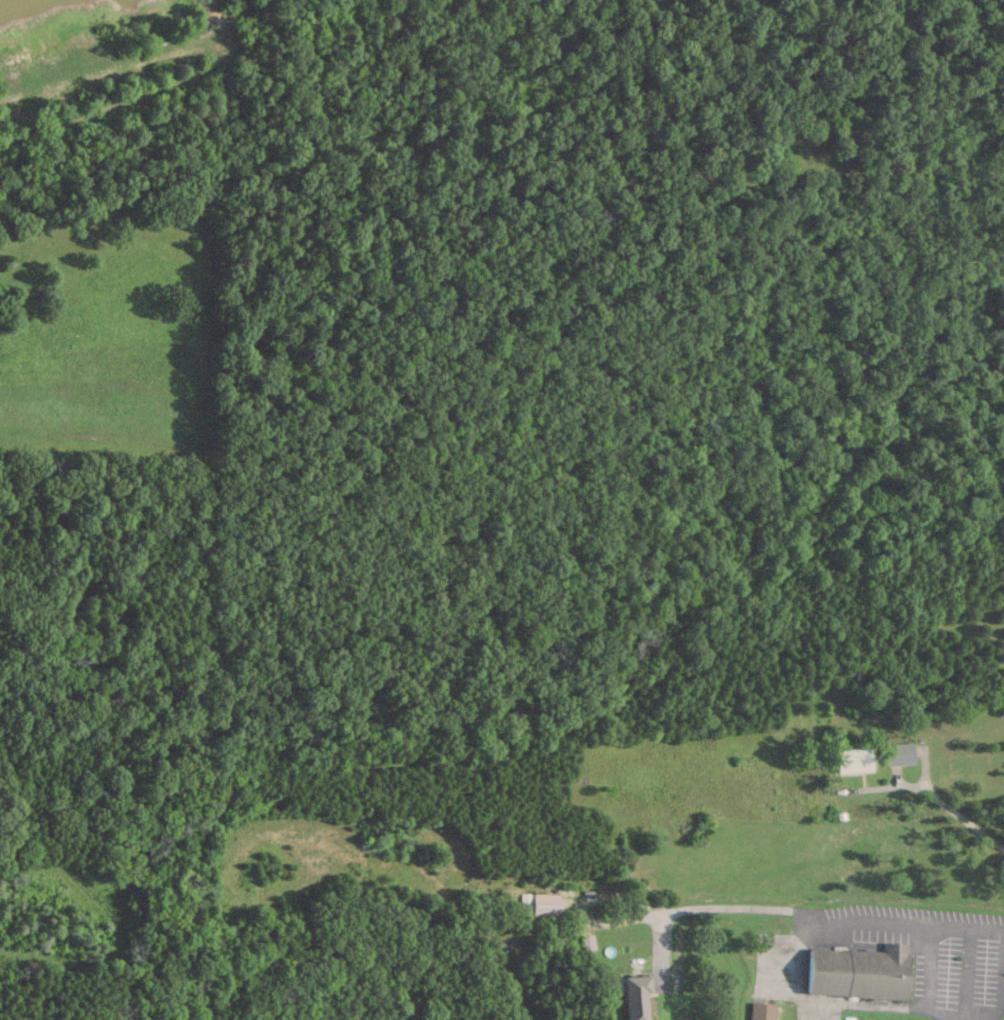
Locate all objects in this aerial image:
road: (89, 100)
building: (898, 753)
building: (852, 759)
road: (938, 800)
building: (538, 905)
road: (889, 927)
road: (966, 930)
building: (856, 972)
road: (965, 975)
road: (926, 978)
road: (1001, 992)
building: (635, 996)
building: (759, 1011)

